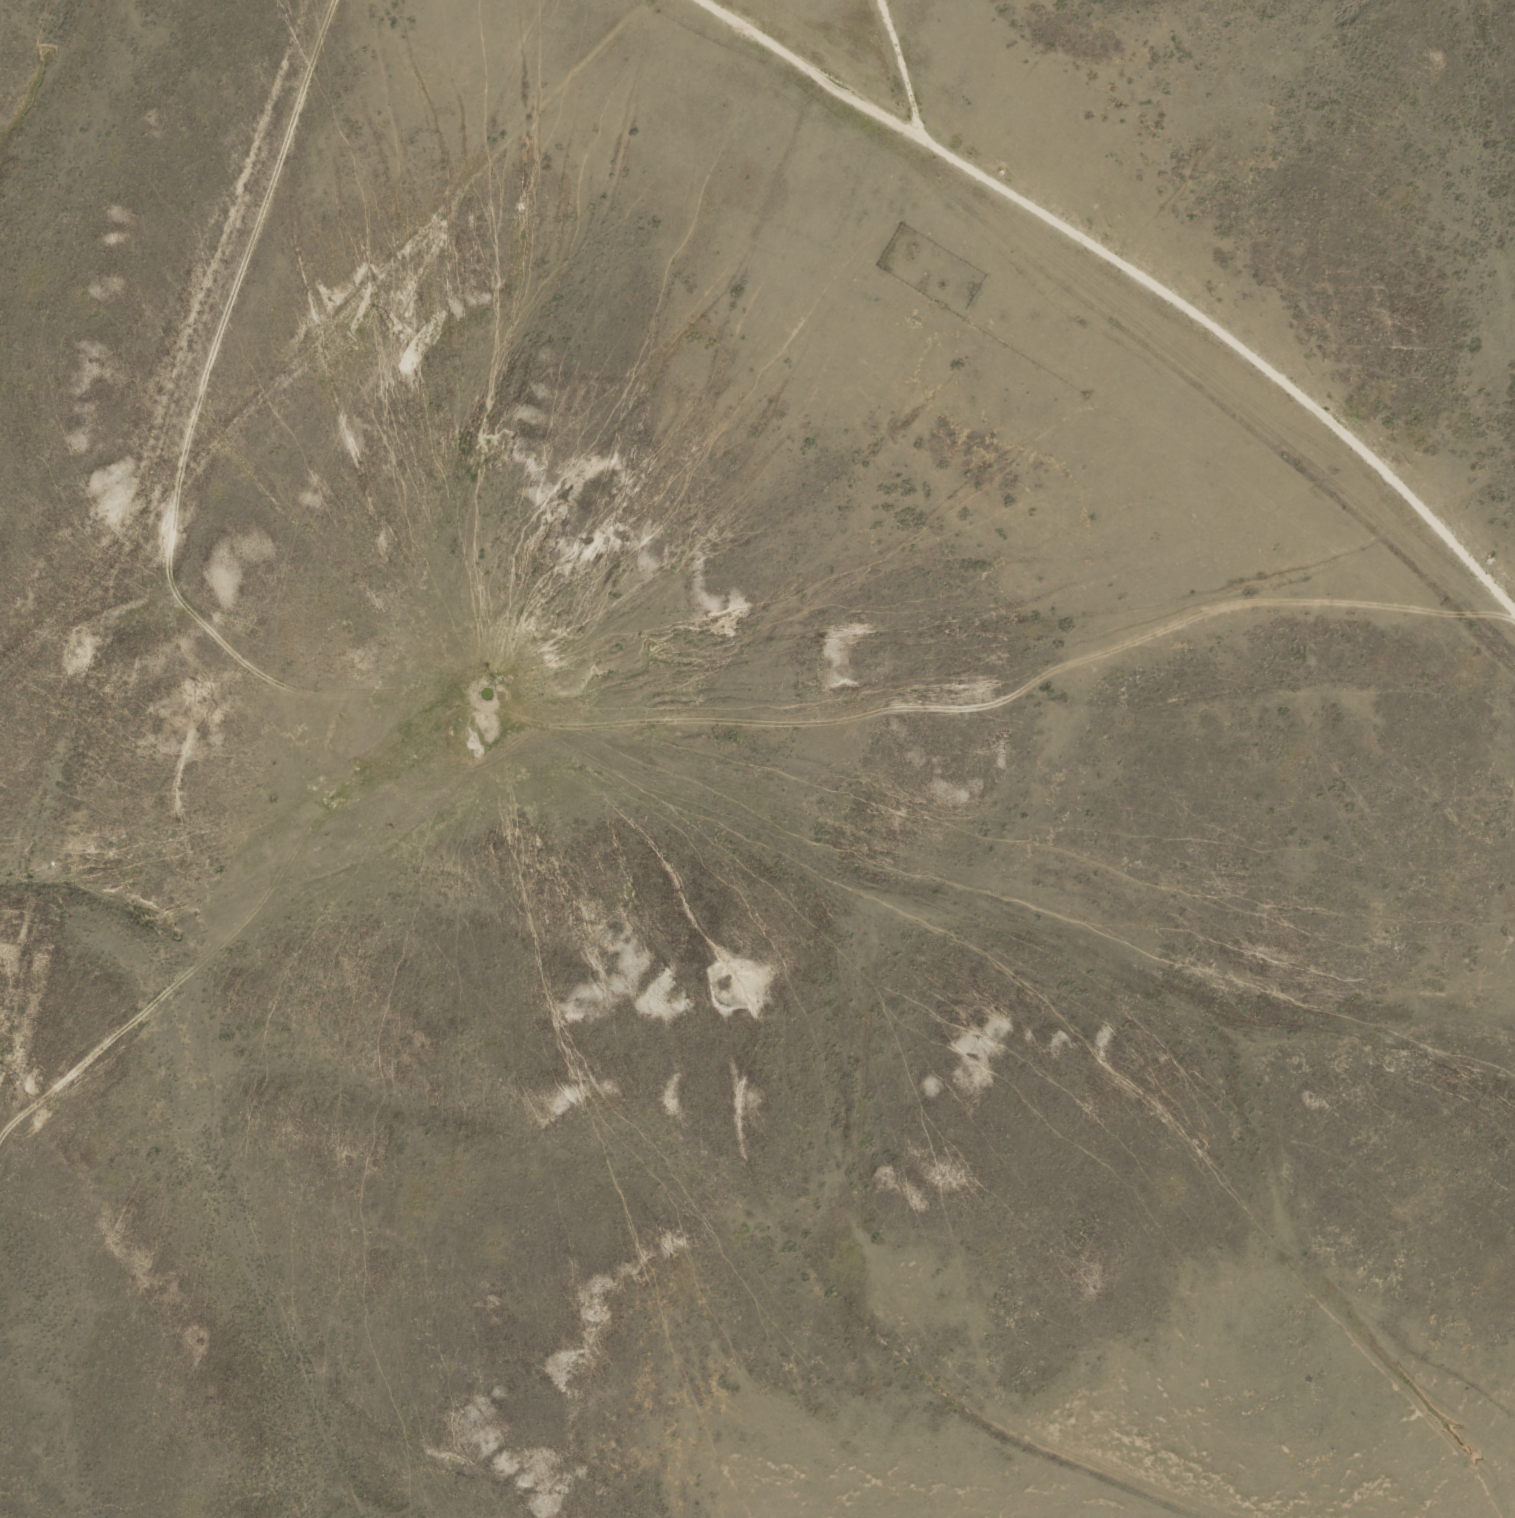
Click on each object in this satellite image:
road: (733, 36)
road: (1084, 271)
power tower: (393, 333)
power tower: (209, 703)
road: (662, 831)
power tower: (18, 1090)

